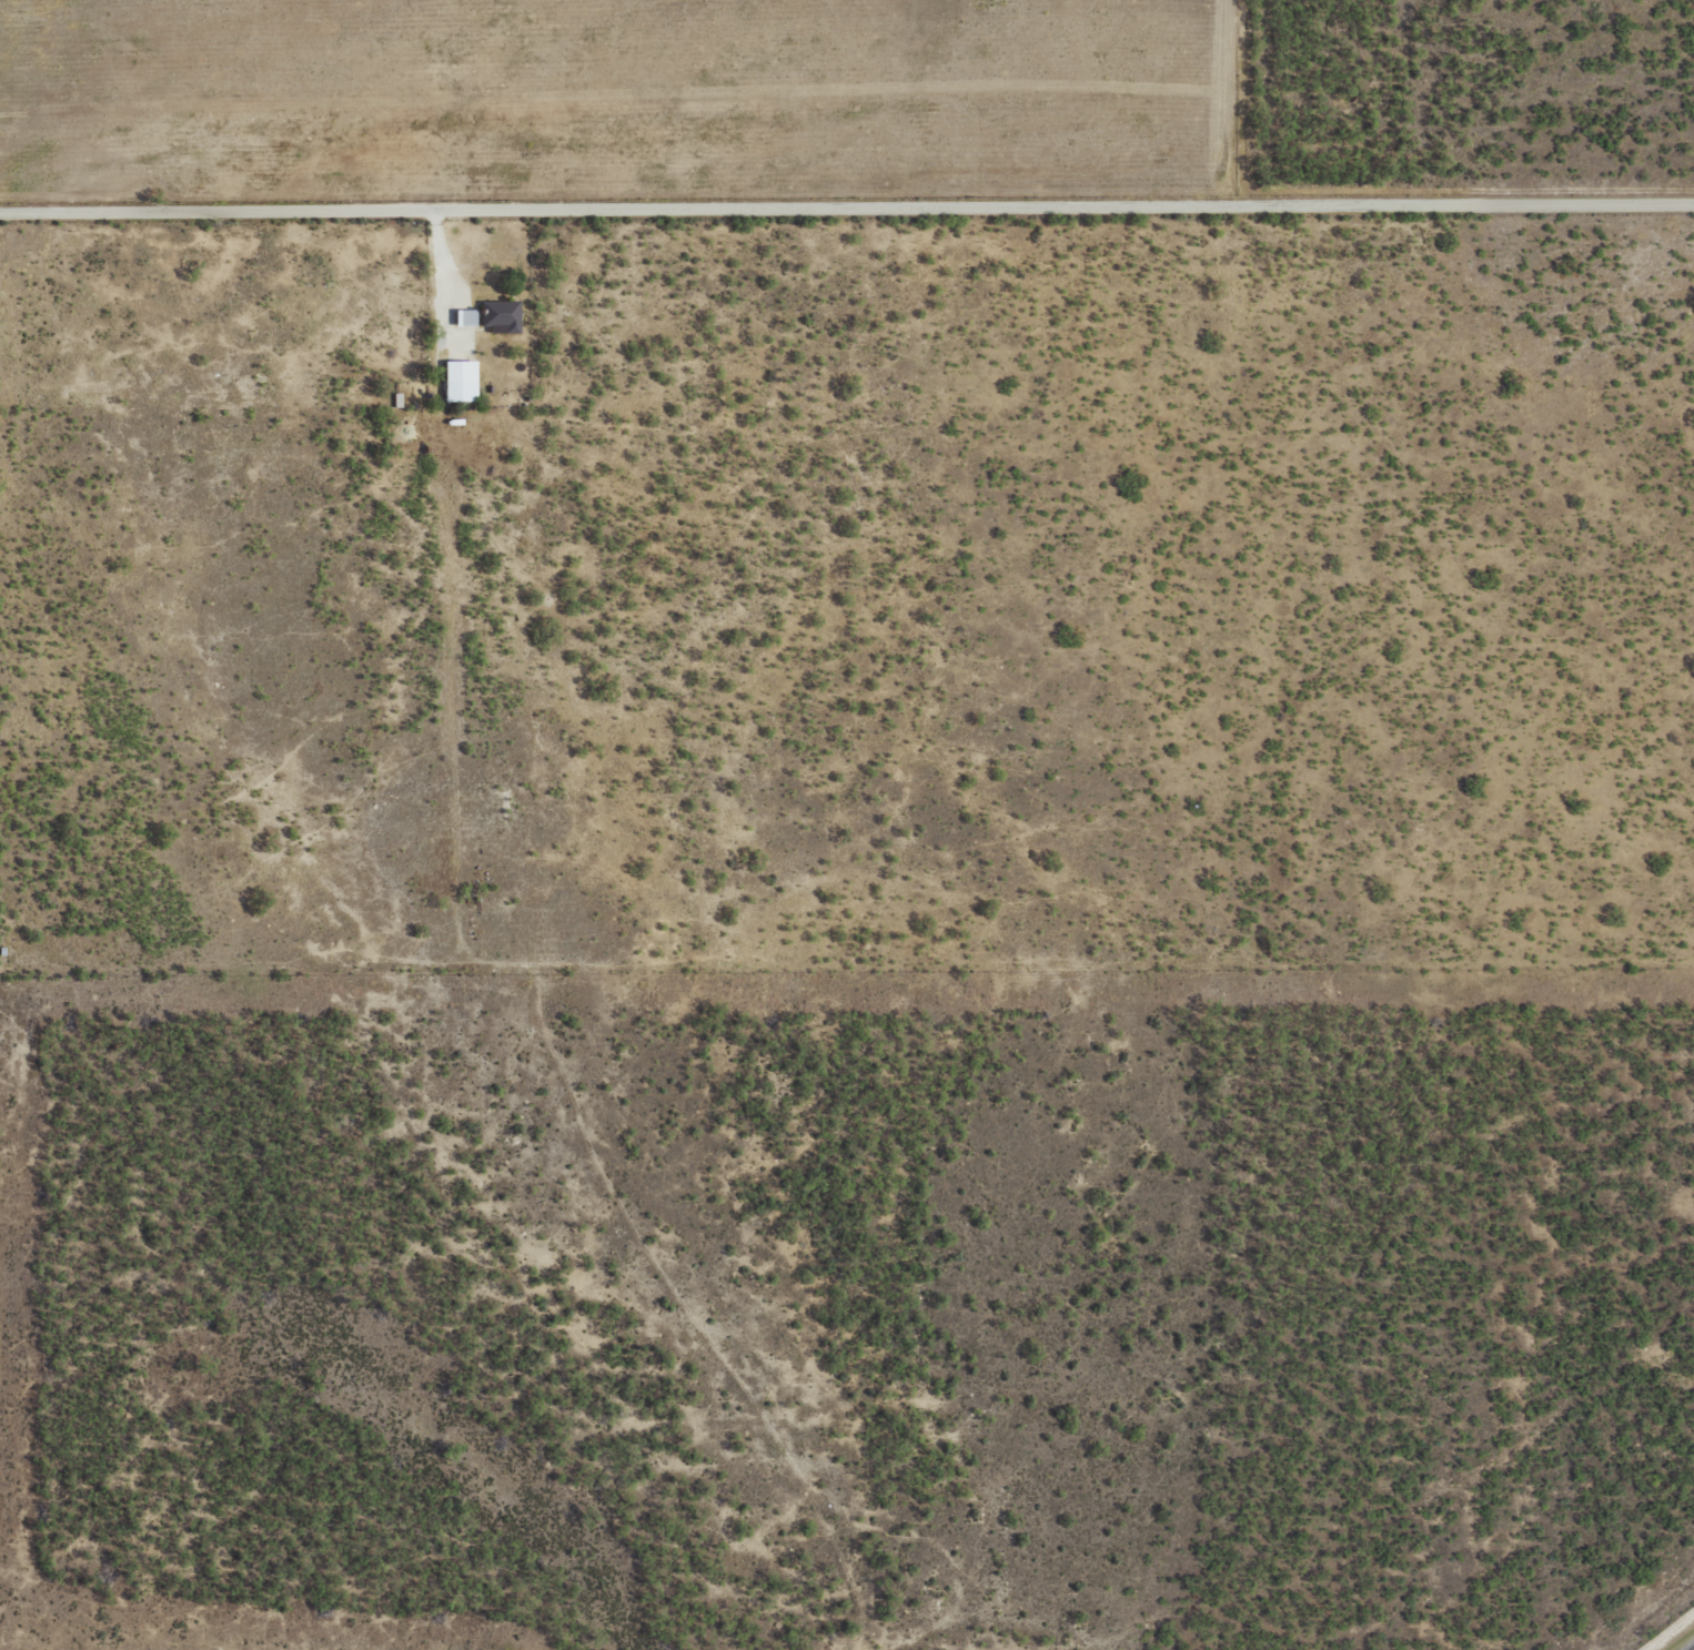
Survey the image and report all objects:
road: (847, 165)
road: (1, 247)
building: (502, 315)
building: (461, 381)

